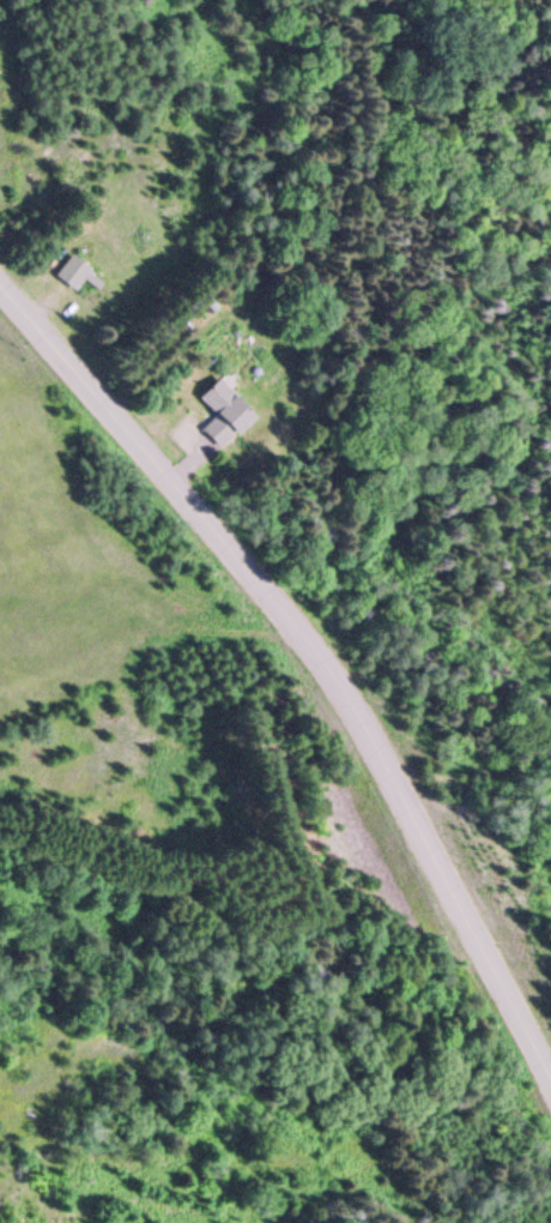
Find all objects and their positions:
building: (71, 271)
building: (223, 411)
road: (313, 638)

